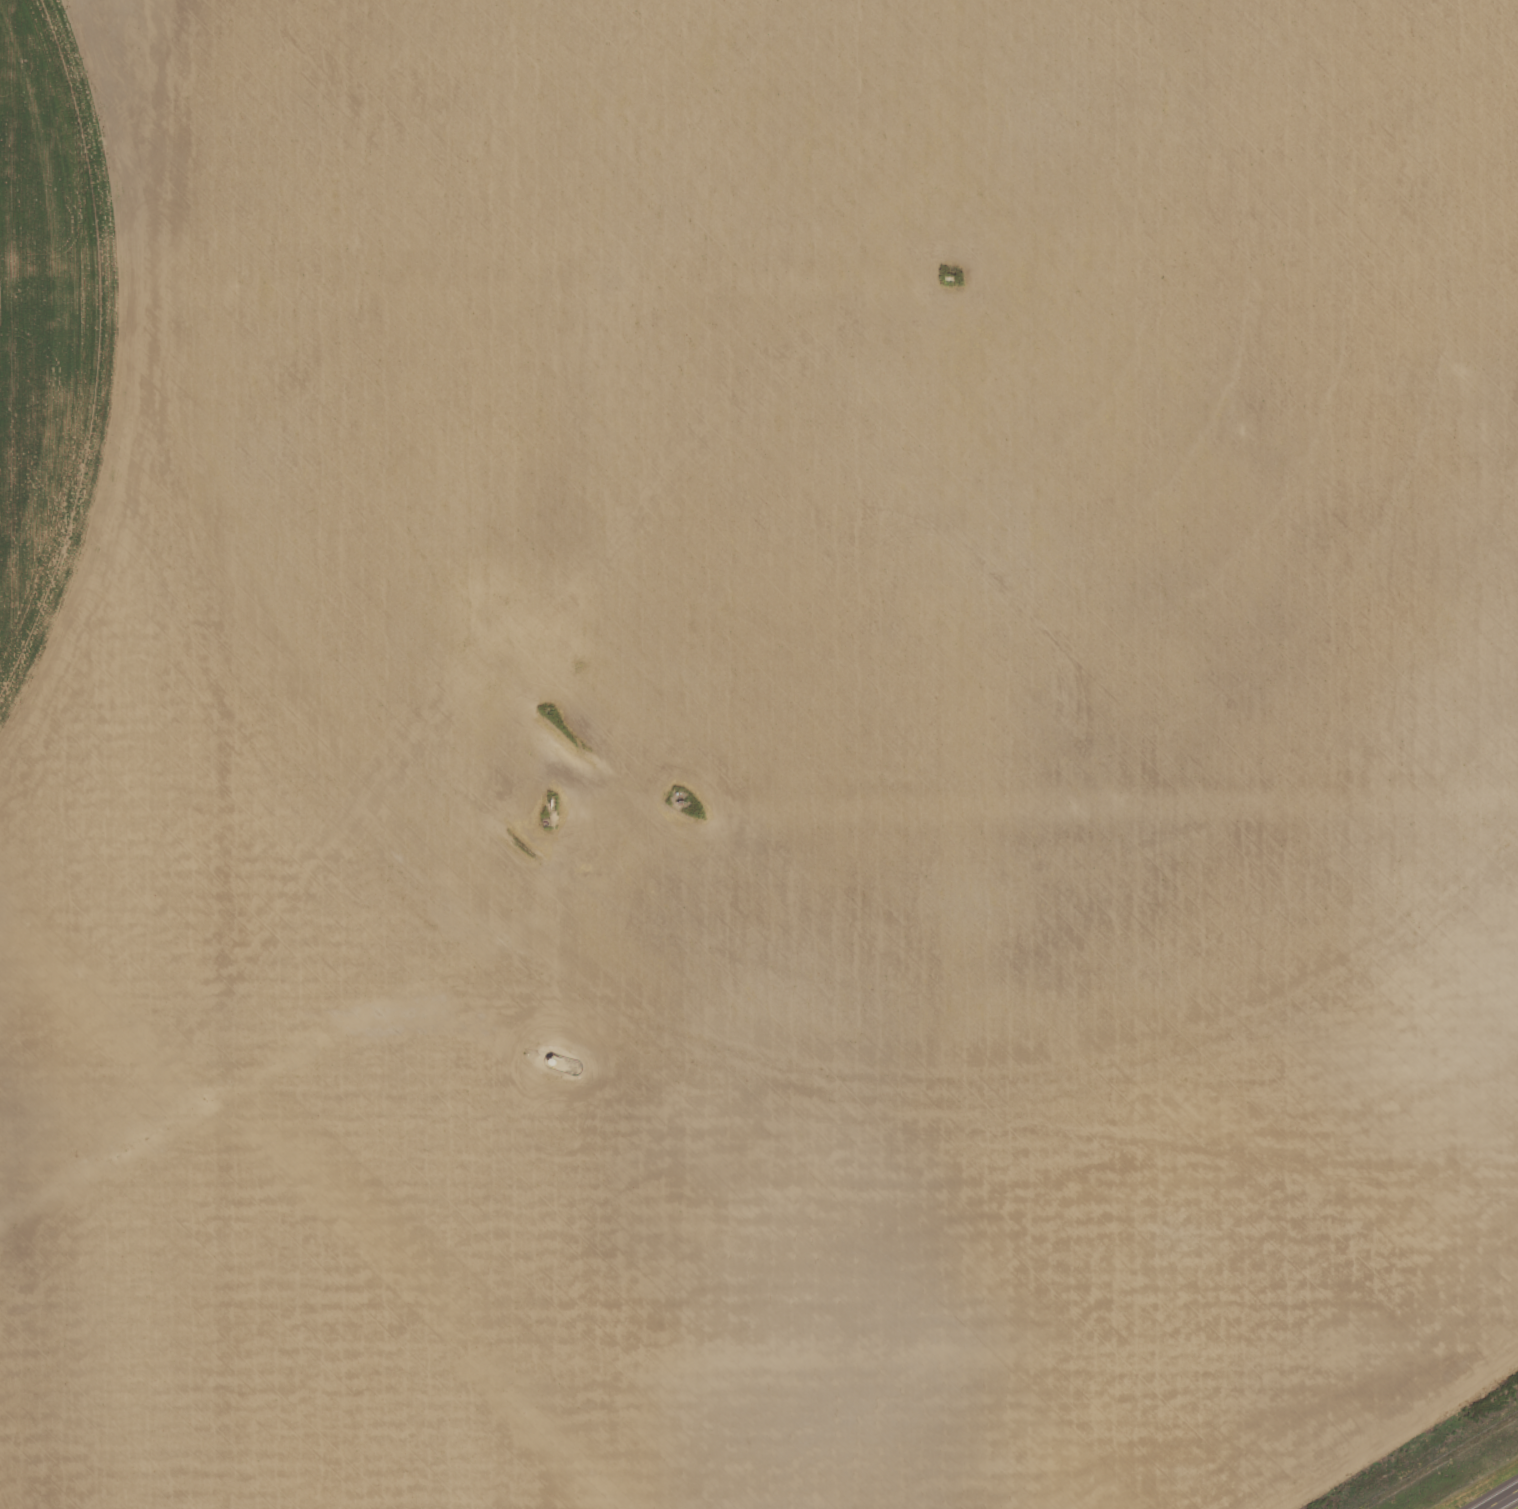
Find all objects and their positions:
road: (1503, 1500)

